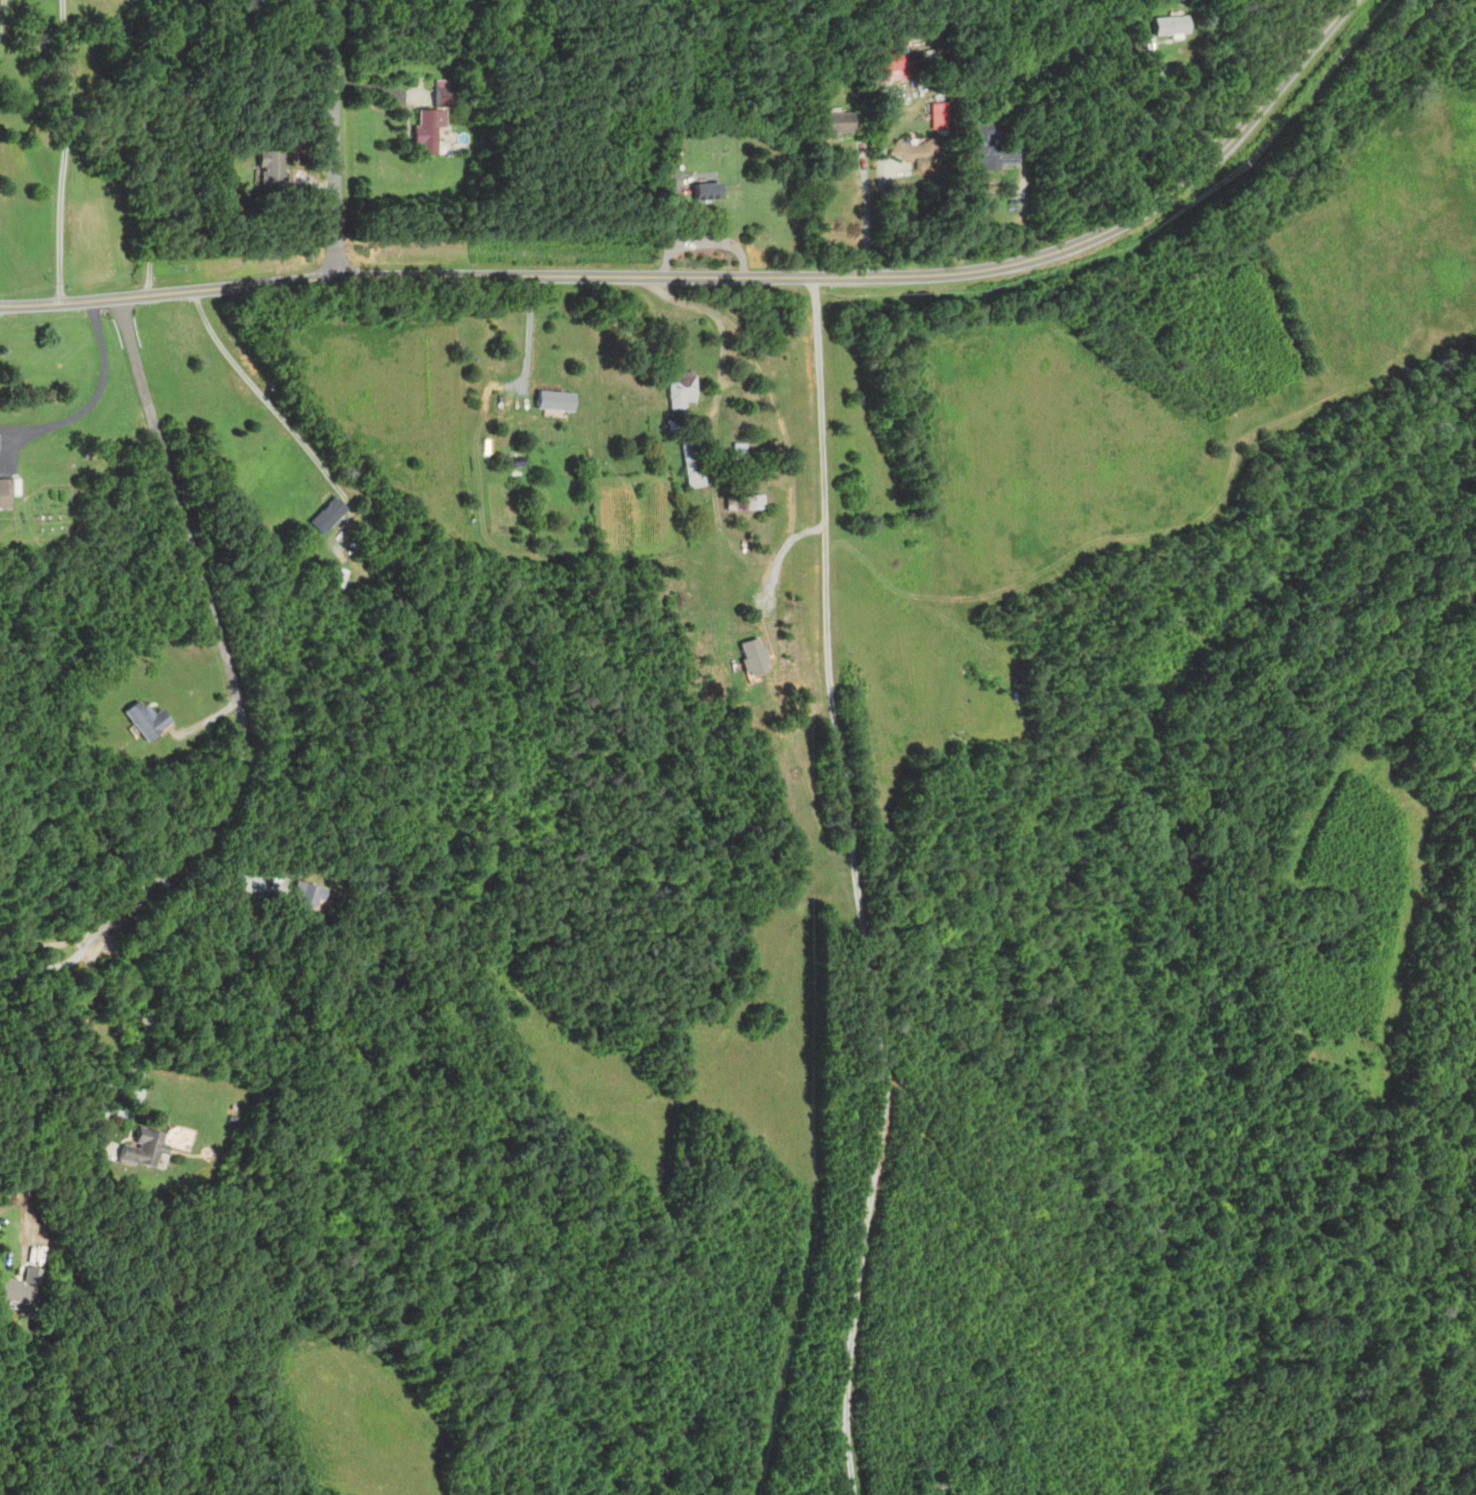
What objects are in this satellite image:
road: (1, 9)
building: (1166, 24)
building: (913, 60)
building: (443, 94)
road: (1180, 107)
building: (834, 123)
building: (428, 131)
road: (333, 138)
road: (158, 145)
building: (986, 147)
road: (64, 150)
building: (911, 150)
building: (271, 169)
road: (884, 175)
building: (707, 192)
road: (725, 275)
road: (720, 325)
building: (184, 332)
road: (530, 333)
road: (259, 388)
building: (681, 390)
road: (95, 395)
building: (538, 423)
building: (739, 452)
building: (691, 461)
building: (8, 492)
building: (755, 503)
building: (328, 515)
road: (222, 640)
building: (148, 720)
road: (856, 887)
building: (306, 894)
road: (217, 910)
road: (47, 943)
road: (50, 967)
road: (49, 1090)
building: (143, 1149)
road: (1014, 1279)
building: (19, 1286)
building: (934, 1486)

